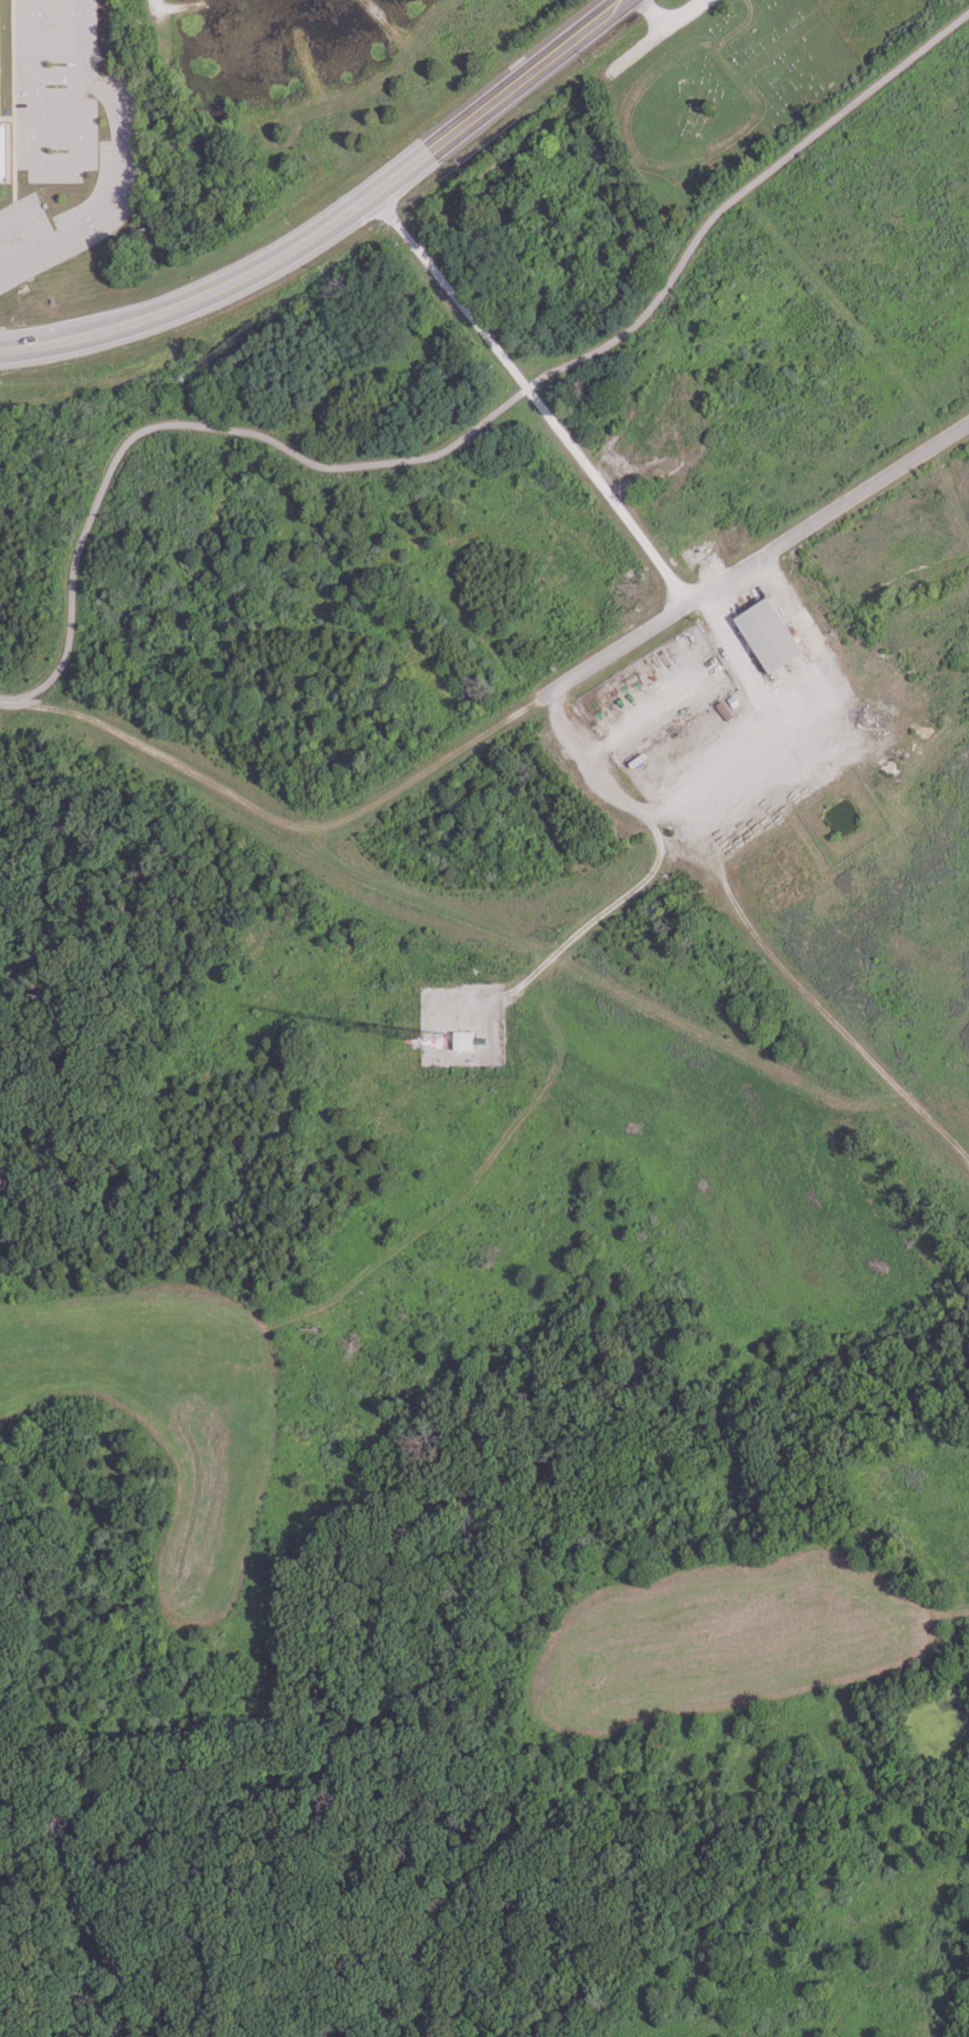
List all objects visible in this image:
road: (155, 4)
road: (651, 14)
road: (655, 35)
road: (515, 82)
building: (3, 152)
road: (53, 162)
road: (116, 171)
road: (433, 269)
road: (244, 274)
road: (639, 309)
road: (30, 346)
road: (532, 396)
road: (85, 523)
road: (752, 561)
building: (767, 634)
road: (639, 717)
road: (719, 780)
road: (275, 816)
road: (547, 957)
road: (804, 996)
road: (490, 1031)
building: (462, 1040)
road: (471, 1175)

